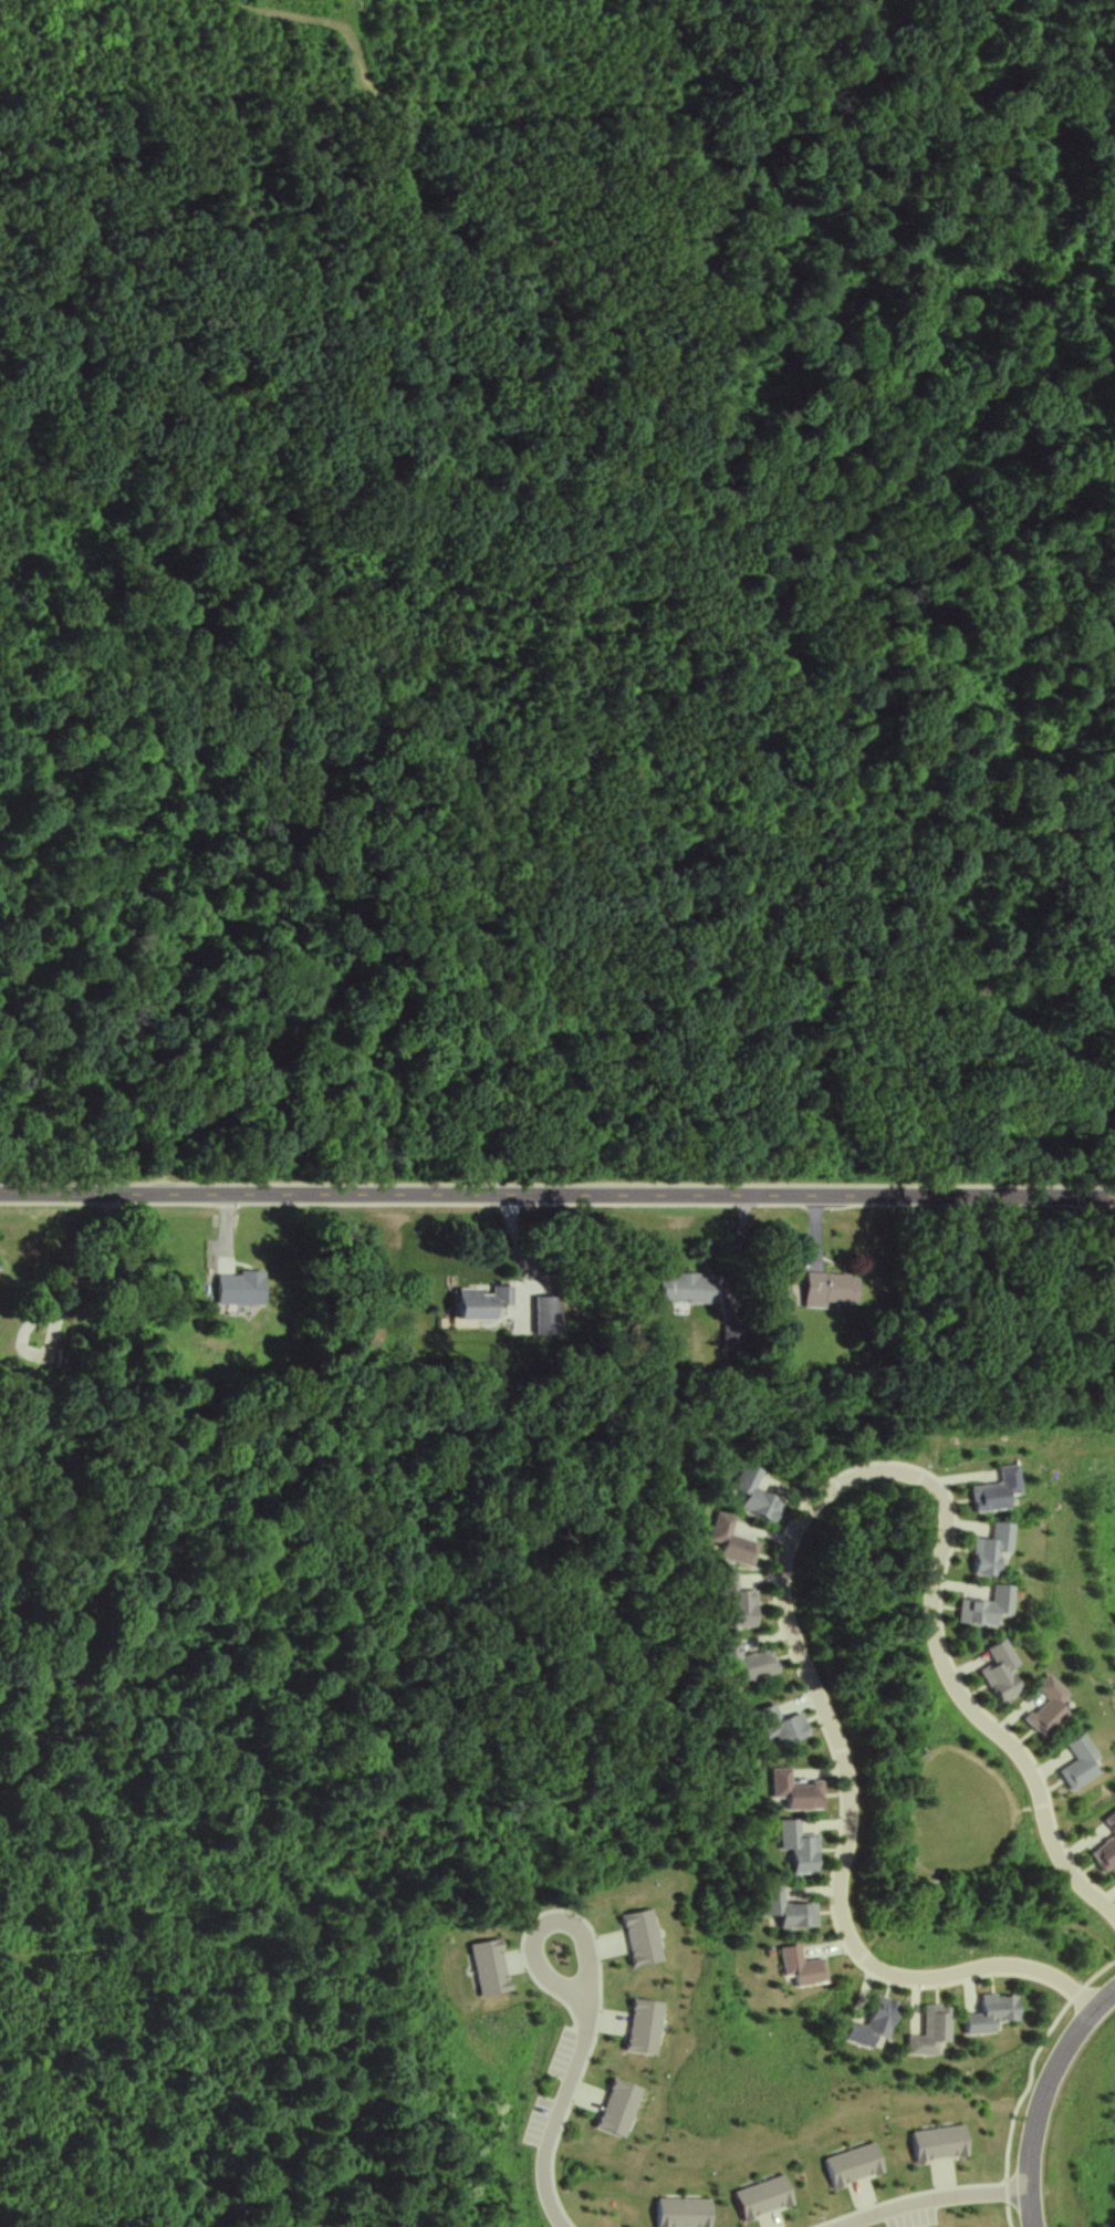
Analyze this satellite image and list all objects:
road: (623, 105)
road: (1055, 408)
park: (557, 597)
road: (1040, 740)
road: (480, 837)
road: (661, 1081)
road: (557, 1195)
road: (741, 1251)
road: (523, 1256)
building: (235, 1289)
building: (684, 1289)
building: (829, 1289)
building: (478, 1302)
building: (544, 1315)
building: (997, 1491)
building: (757, 1495)
building: (728, 1541)
building: (990, 1549)
road: (790, 1550)
building: (737, 1603)
building: (983, 1606)
building: (744, 1662)
building: (997, 1671)
building: (1044, 1706)
building: (783, 1728)
building: (1076, 1762)
building: (792, 1791)
building: (1105, 1845)
building: (795, 1846)
building: (783, 1908)
building: (798, 1966)
building: (989, 2013)
building: (871, 2023)
building: (928, 2030)
road: (570, 2098)
road: (1048, 2101)
road: (938, 2203)

